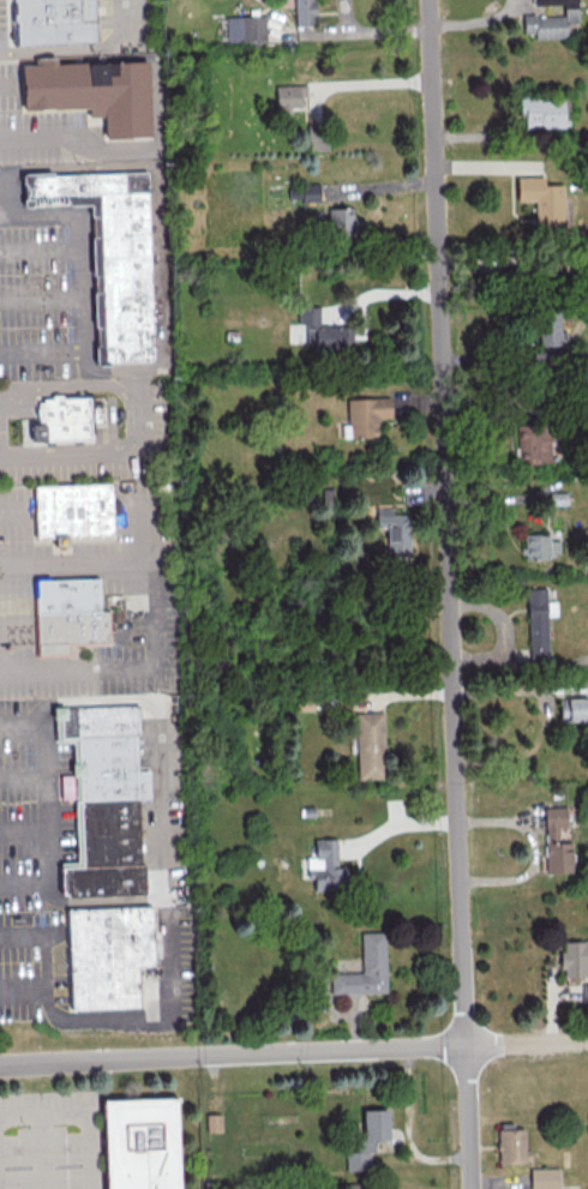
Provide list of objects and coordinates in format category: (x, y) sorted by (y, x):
building: (304, 12)
parking lot: (102, 13)
building: (55, 20)
building: (550, 20)
parking lot: (2, 23)
road: (119, 23)
building: (245, 28)
road: (374, 29)
road: (60, 49)
road: (6, 82)
building: (92, 91)
building: (289, 97)
building: (541, 112)
parking lot: (36, 126)
road: (40, 134)
road: (6, 188)
building: (541, 199)
road: (6, 215)
building: (340, 220)
road: (82, 234)
road: (41, 245)
building: (113, 256)
parking lot: (36, 299)
road: (42, 299)
building: (550, 329)
building: (324, 331)
road: (42, 352)
road: (126, 397)
road: (0, 406)
building: (366, 414)
building: (61, 419)
parking lot: (154, 432)
building: (533, 443)
road: (102, 457)
building: (72, 510)
road: (13, 511)
parking lot: (131, 518)
building: (394, 532)
building: (539, 546)
road: (96, 560)
road: (449, 594)
building: (68, 614)
road: (11, 621)
building: (536, 624)
road: (22, 644)
parking lot: (89, 649)
road: (137, 666)
building: (572, 709)
road: (20, 721)
building: (370, 744)
building: (103, 750)
road: (22, 776)
road: (43, 800)
parking lot: (19, 806)
road: (23, 828)
building: (556, 841)
road: (538, 847)
building: (108, 852)
building: (324, 865)
road: (24, 879)
road: (43, 947)
building: (109, 956)
building: (574, 959)
parking lot: (30, 962)
building: (364, 967)
building: (584, 991)
road: (131, 1021)
road: (293, 1051)
road: (80, 1116)
building: (212, 1122)
building: (367, 1139)
building: (145, 1143)
building: (510, 1145)
road: (40, 1153)
building: (544, 1178)
building: (352, 1185)

